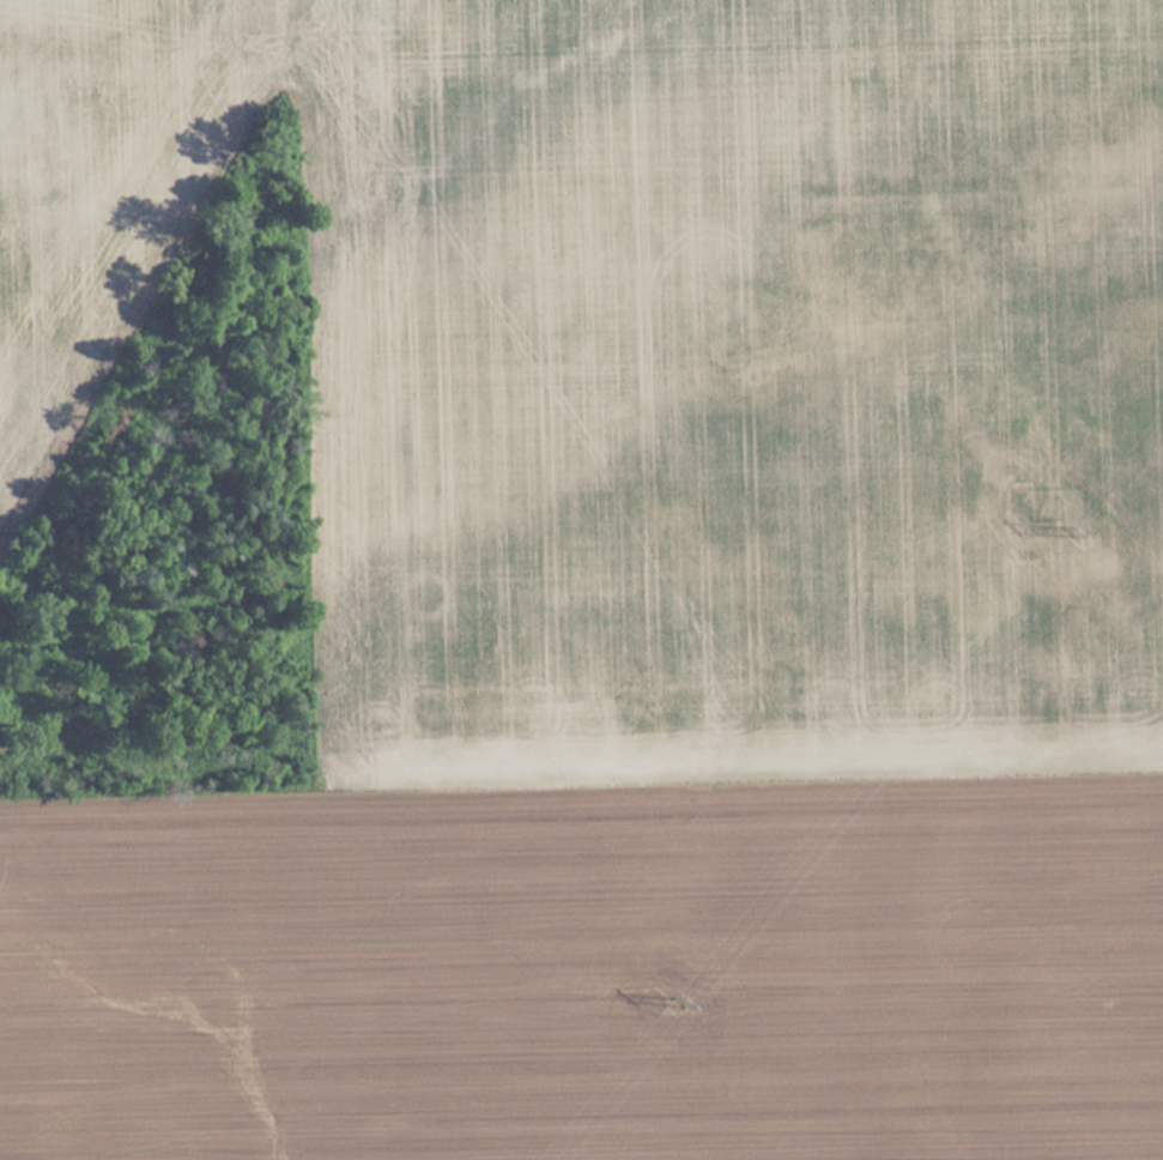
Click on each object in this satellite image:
power tower: (1068, 540)
power tower: (678, 1004)

